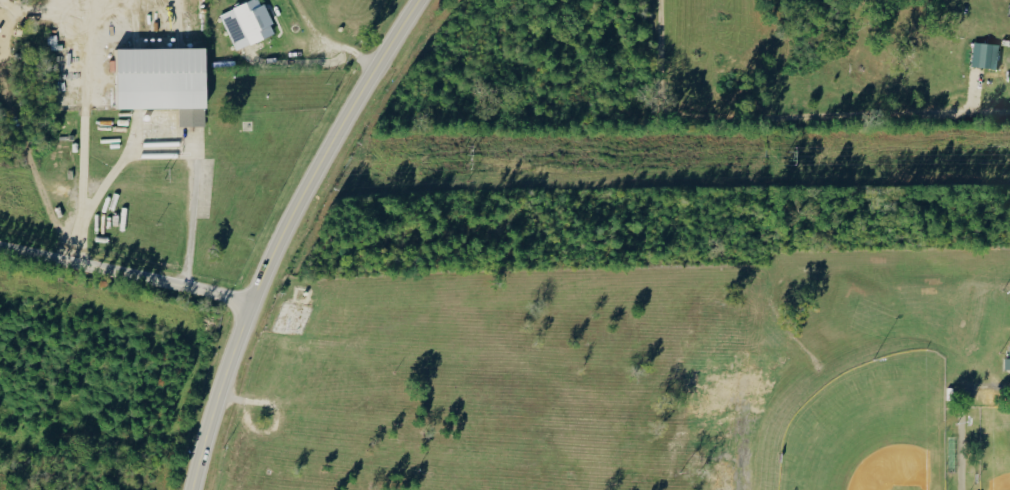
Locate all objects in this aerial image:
building: (247, 23)
road: (331, 43)
building: (985, 55)
road: (303, 67)
building: (161, 81)
road: (782, 118)
road: (90, 134)
road: (193, 159)
power tower: (775, 167)
power tower: (467, 169)
power tower: (155, 175)
road: (287, 236)
road: (128, 281)
building: (1007, 364)

